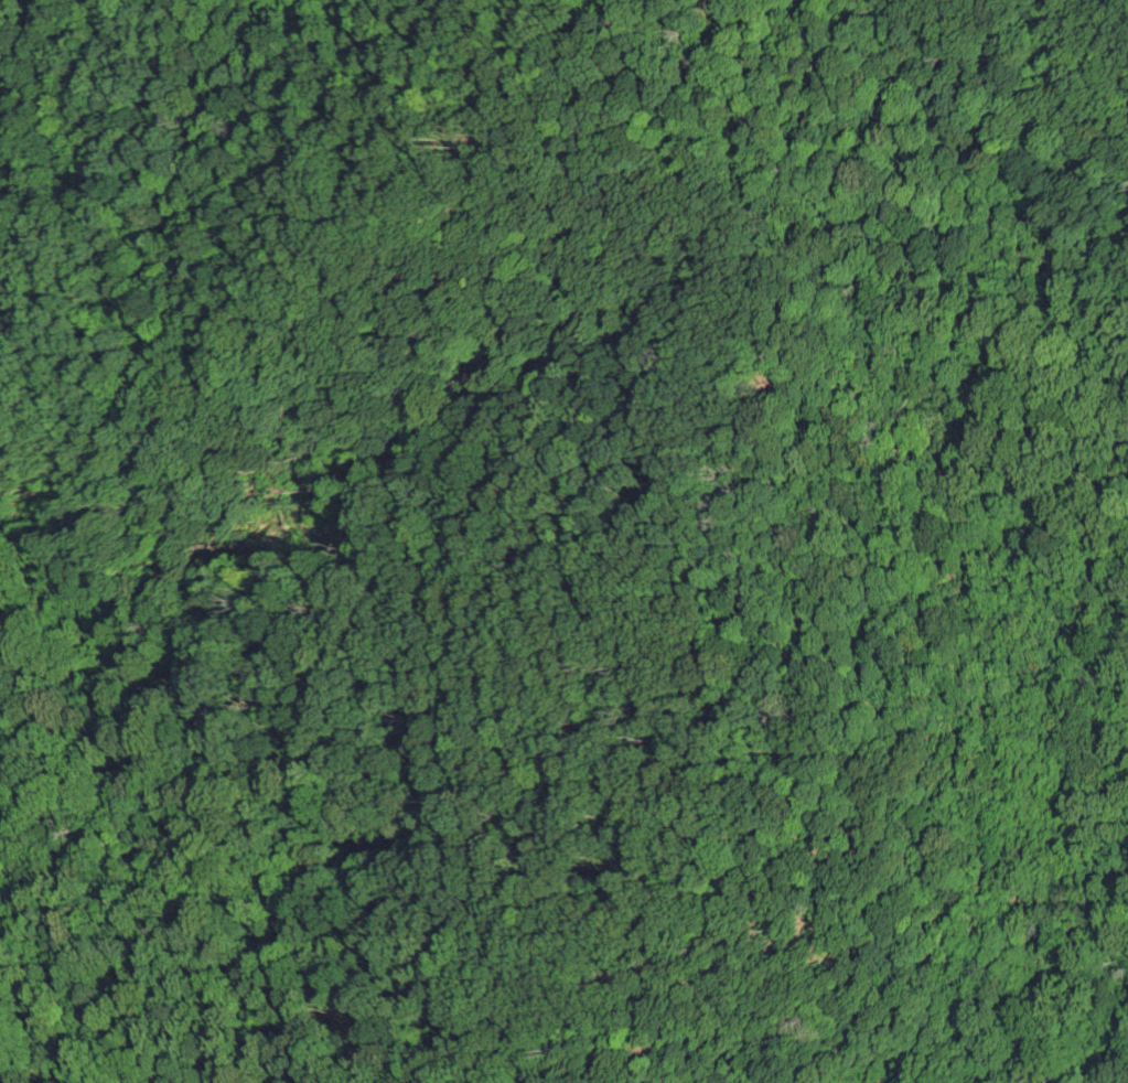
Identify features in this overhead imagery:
road: (889, 726)

